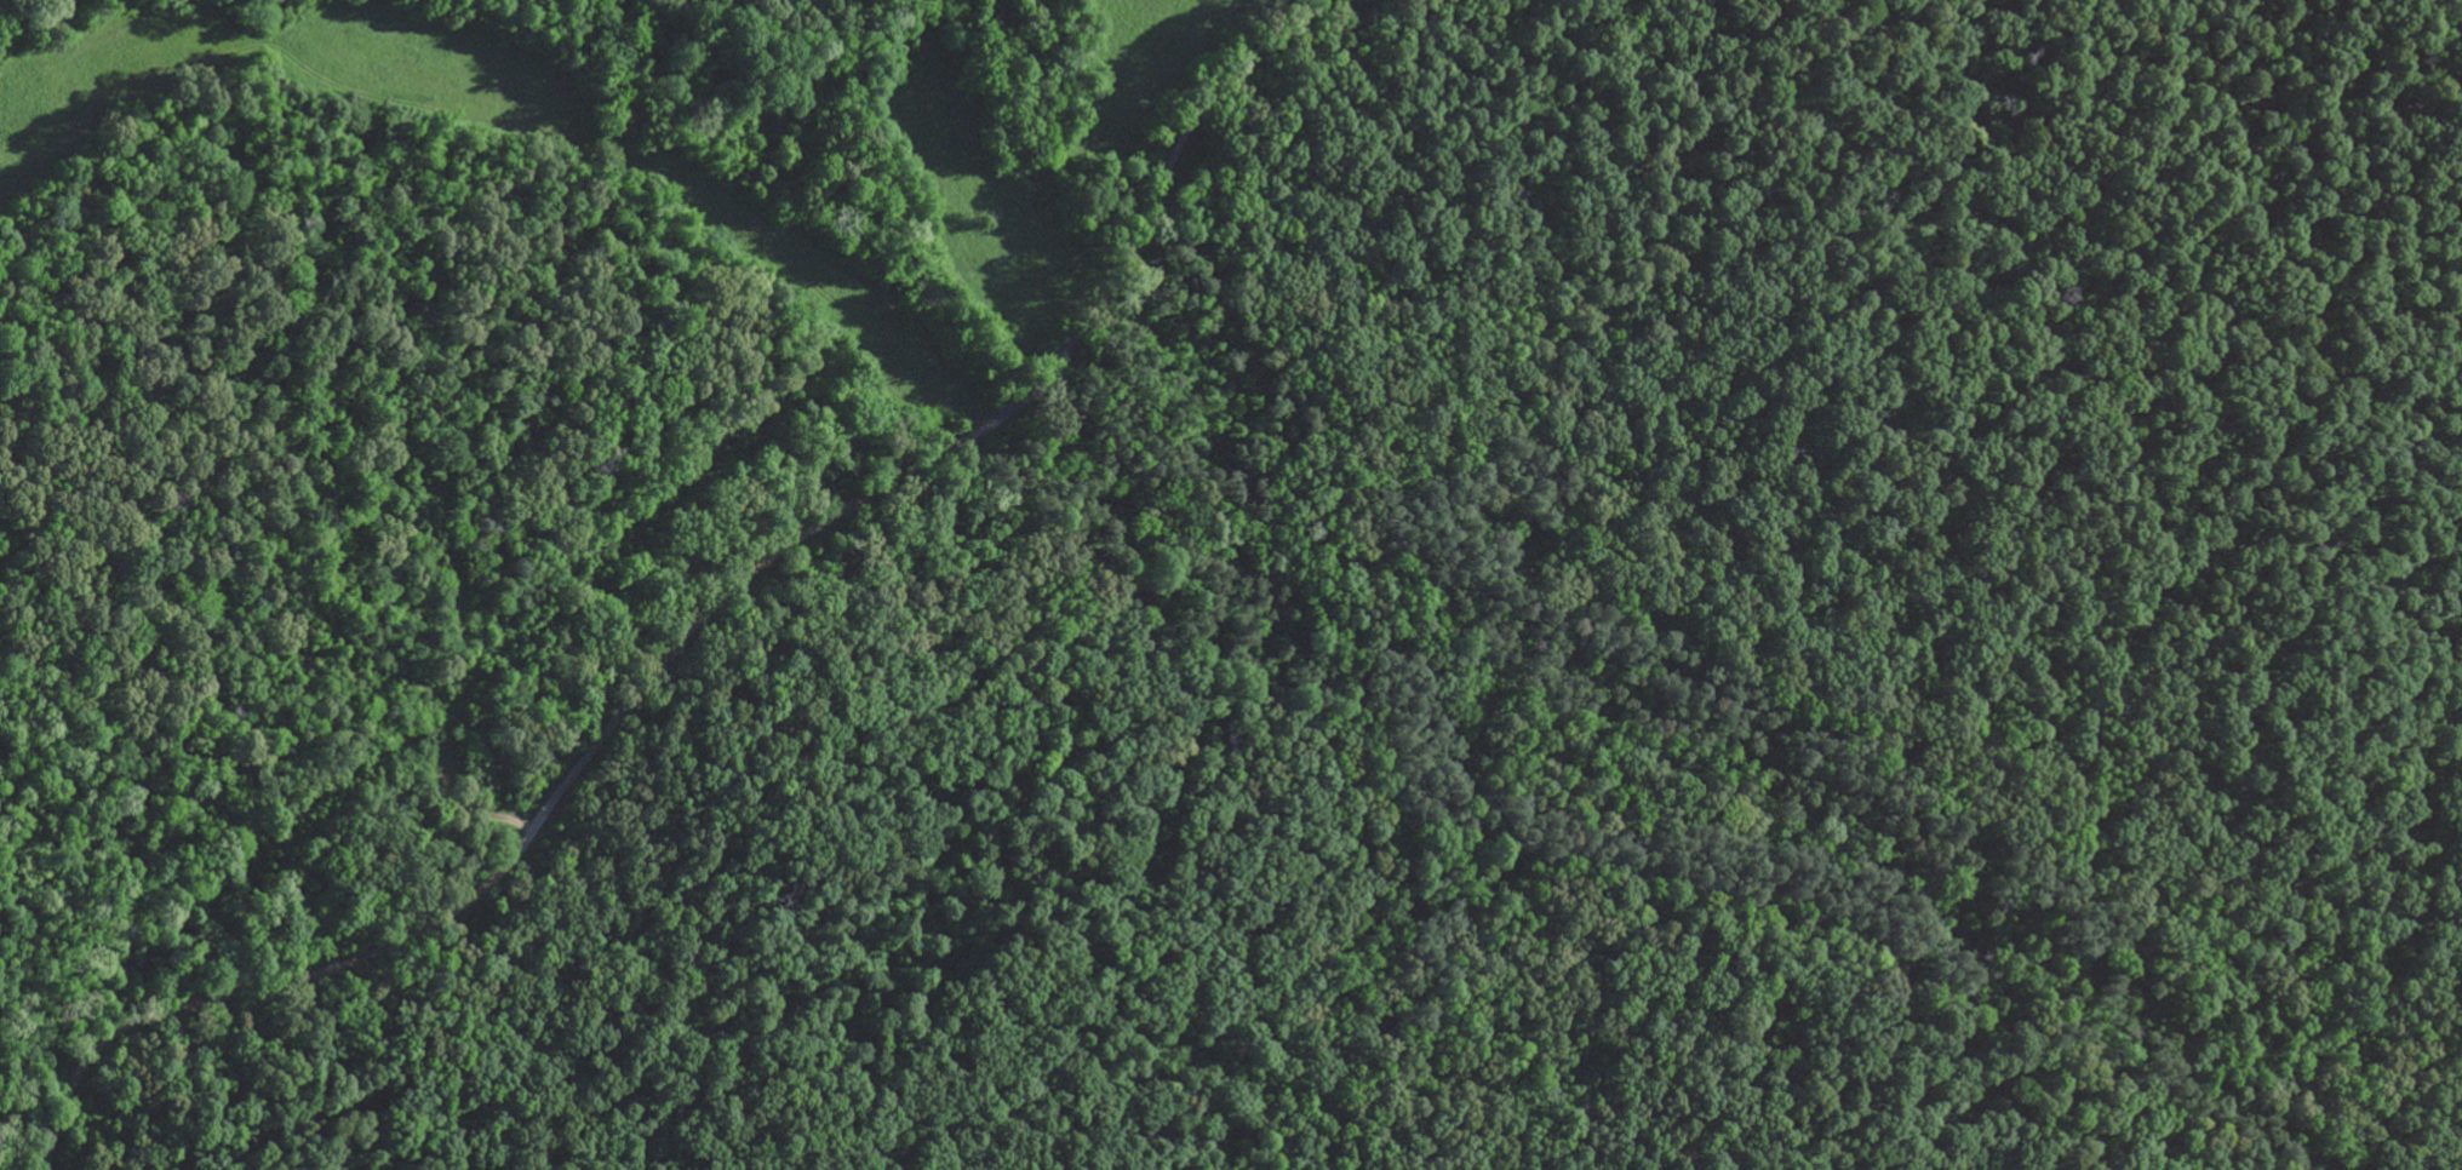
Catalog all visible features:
road: (698, 619)

